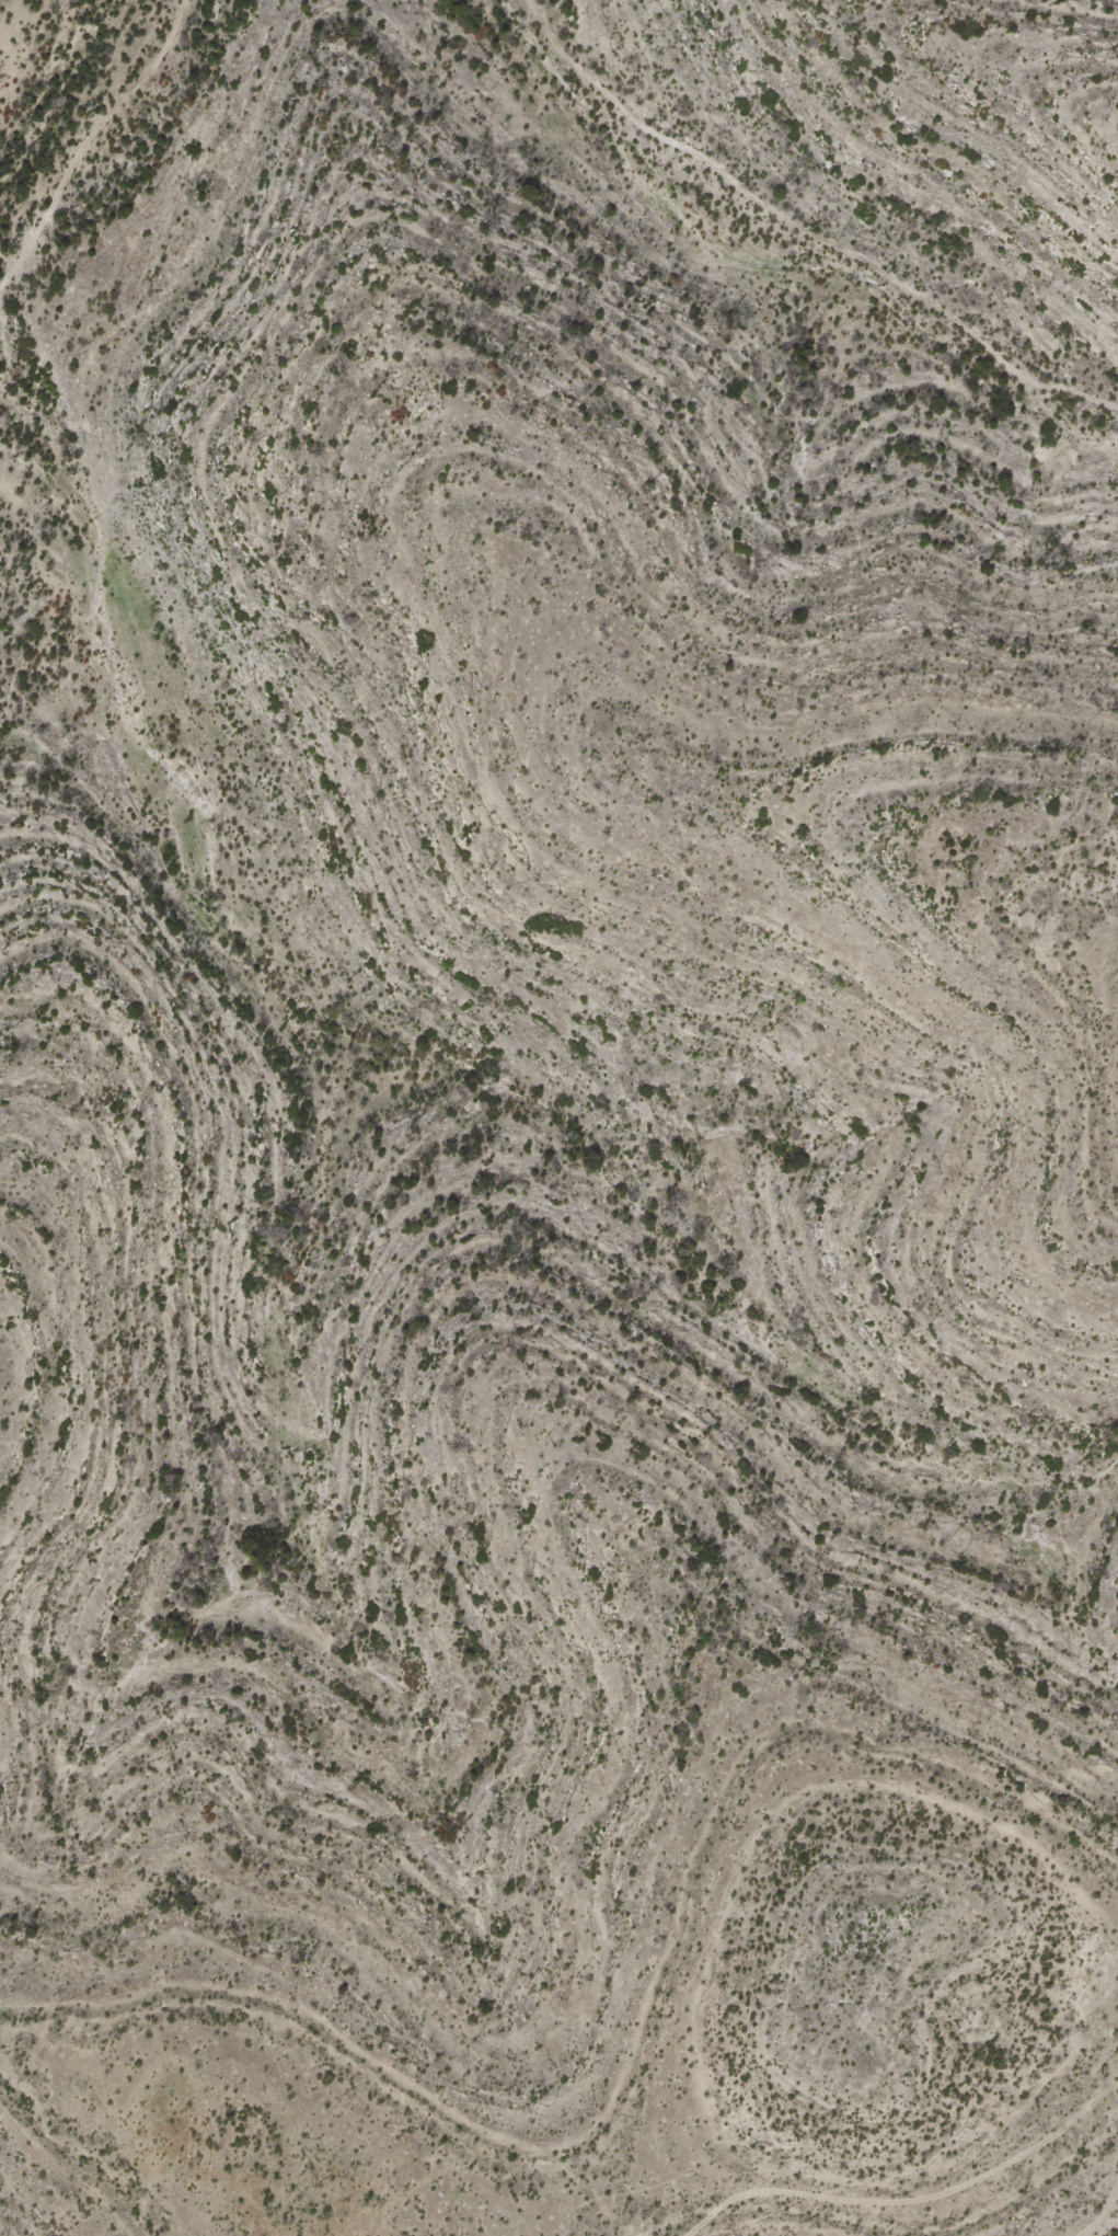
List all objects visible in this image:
road: (85, 139)
road: (807, 231)
road: (1108, 944)
road: (1106, 2211)

